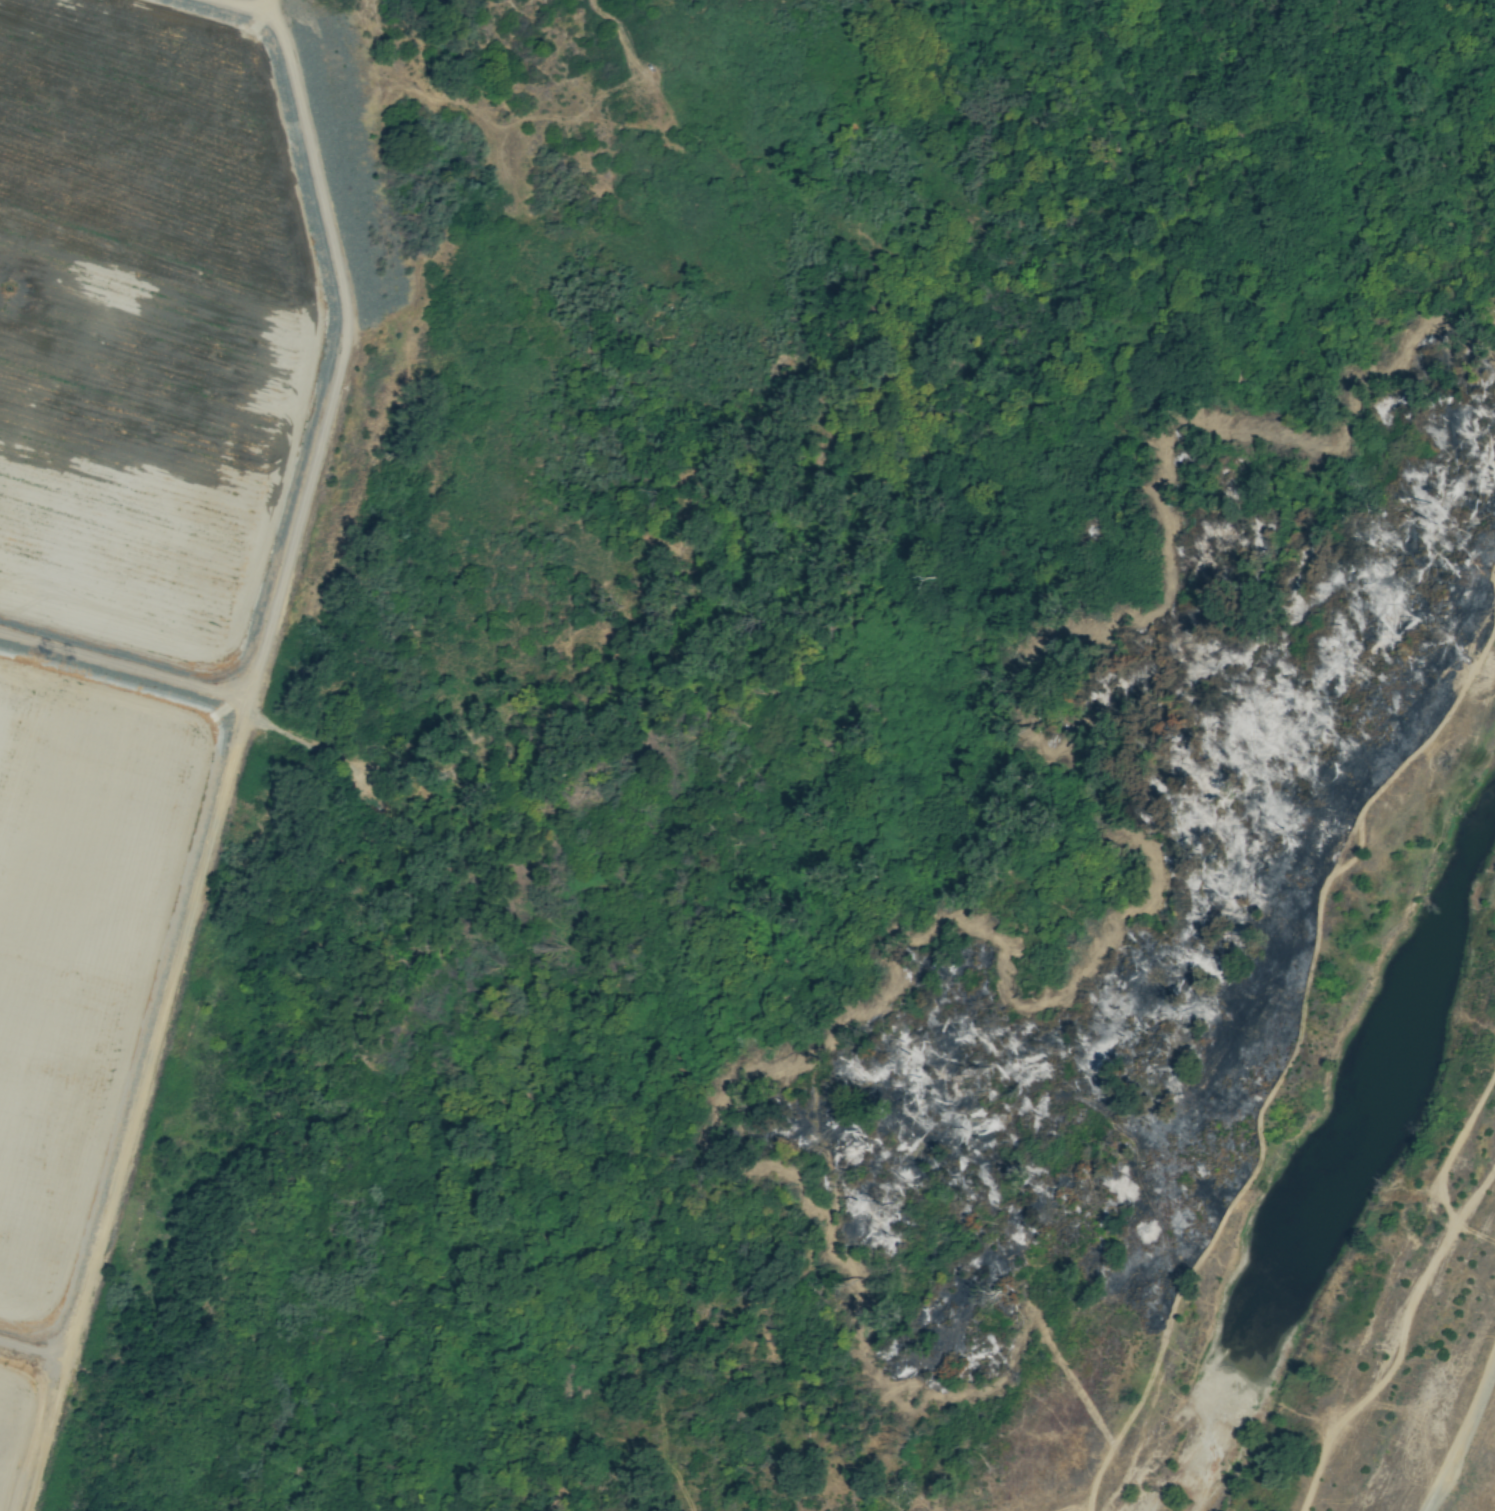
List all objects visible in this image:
crop: (133, 607)
road: (1396, 1312)

